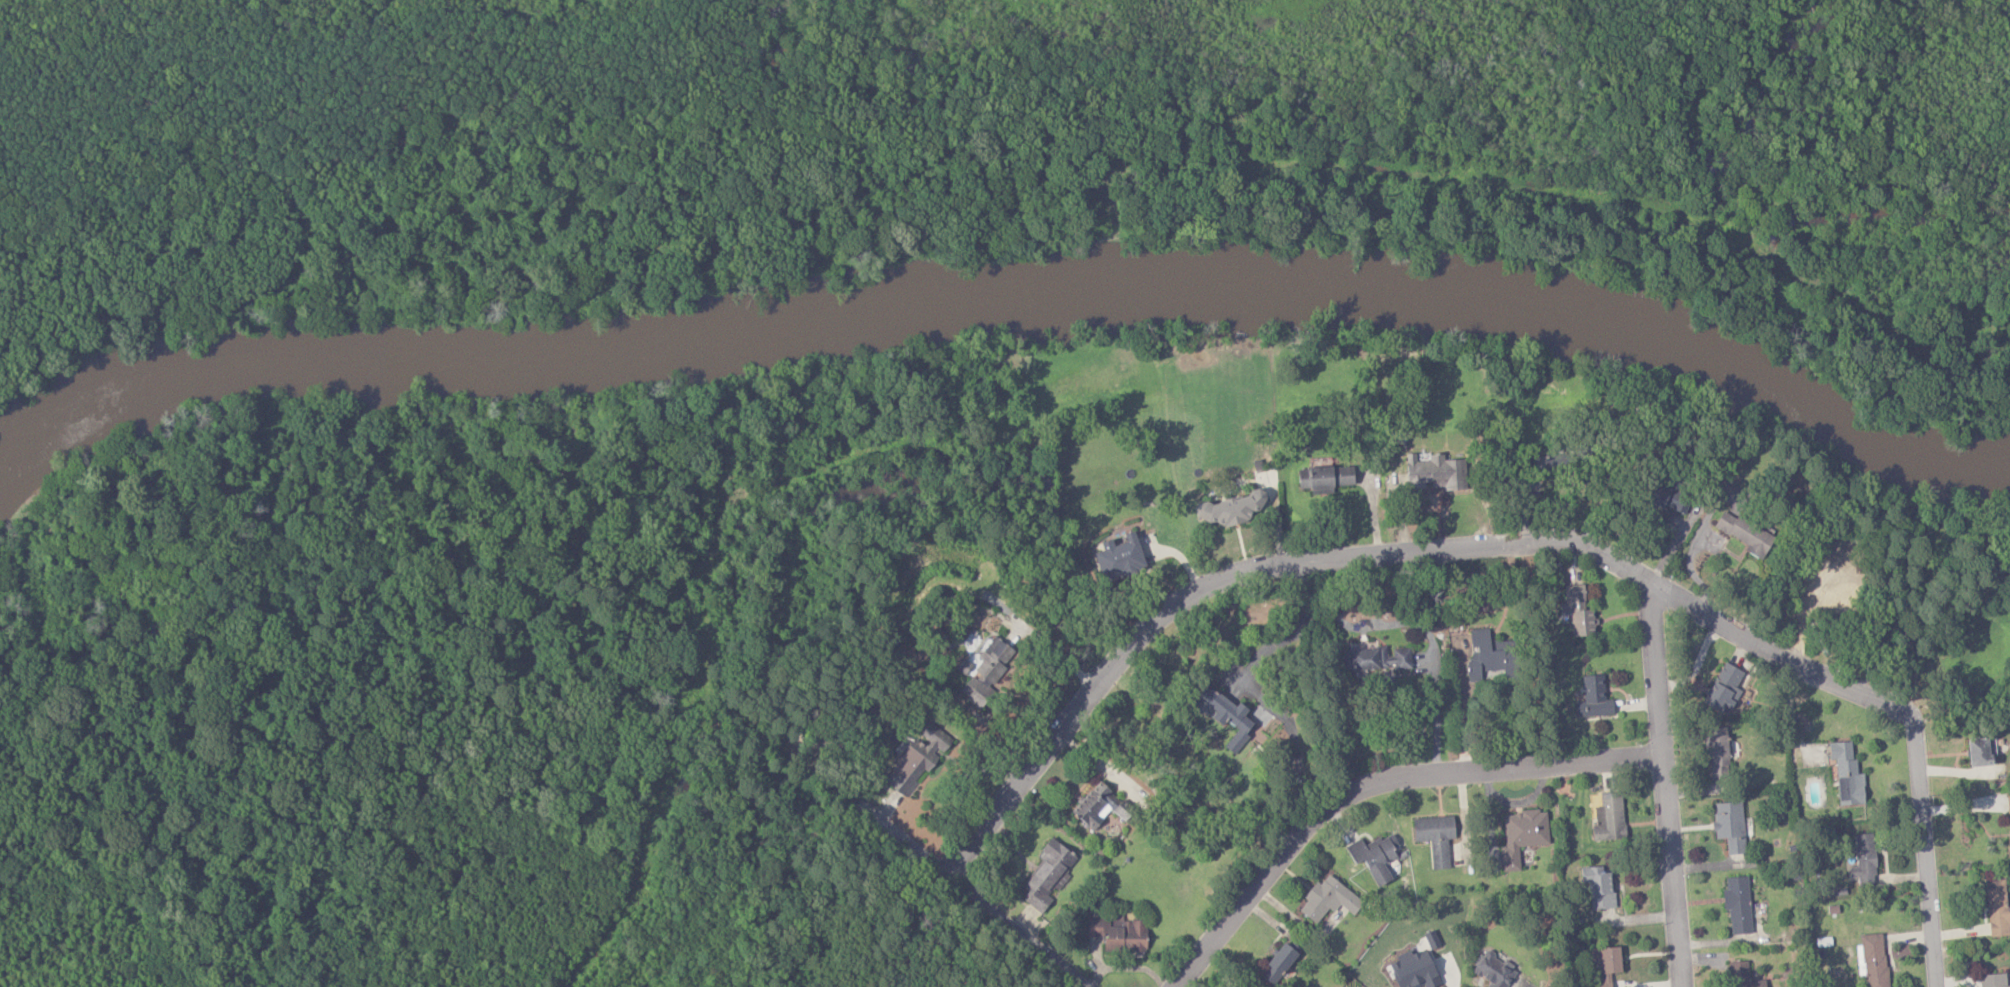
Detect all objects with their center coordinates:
river: (991, 294)
building: (1550, 459)
building: (1323, 477)
building: (1669, 495)
building: (1228, 507)
building: (1744, 533)
road: (1384, 555)
building: (1118, 556)
building: (1827, 582)
building: (1577, 611)
road: (1053, 652)
building: (1487, 655)
building: (1374, 657)
building: (986, 672)
building: (1724, 688)
building: (1593, 697)
building: (1221, 713)
road: (1437, 720)
building: (1717, 751)
building: (1981, 751)
building: (916, 760)
building: (1846, 774)
road: (1663, 782)
road: (1373, 783)
building: (1090, 809)
building: (1609, 817)
building: (1729, 825)
building: (2008, 832)
building: (1521, 835)
building: (1435, 837)
road: (1925, 853)
building: (1375, 859)
building: (1864, 860)
building: (1047, 874)
building: (1598, 886)
road: (969, 895)
building: (1327, 899)
building: (1737, 904)
building: (1997, 908)
building: (1118, 933)
building: (1872, 960)
building: (1278, 963)
building: (1604, 965)
building: (1493, 970)
building: (1742, 975)
building: (1993, 980)

